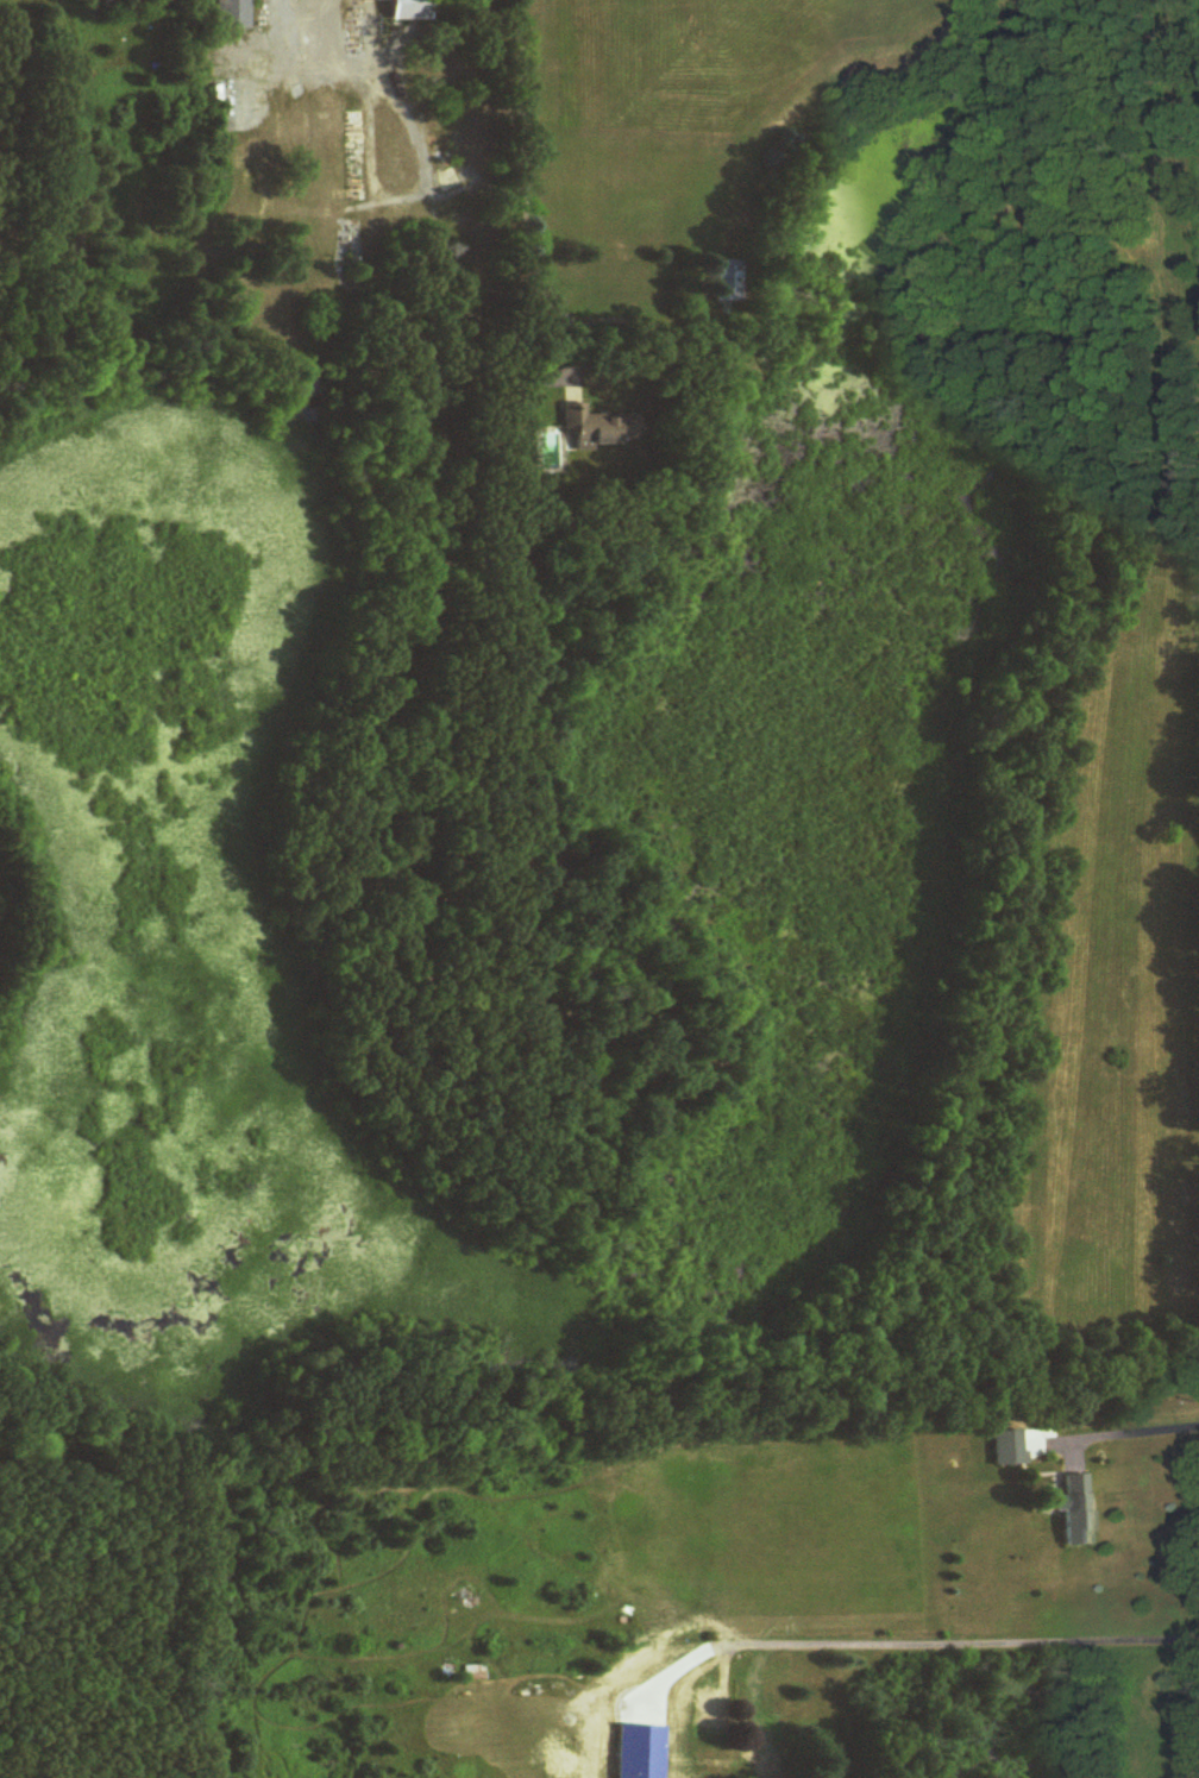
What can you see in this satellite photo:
building: (372, 0)
building: (413, 10)
building: (231, 14)
building: (728, 281)
building: (592, 429)
road: (1126, 1433)
building: (1011, 1449)
building: (1078, 1510)
road: (936, 1642)
building: (476, 1673)
building: (705, 1710)
building: (642, 1752)
building: (759, 1761)

